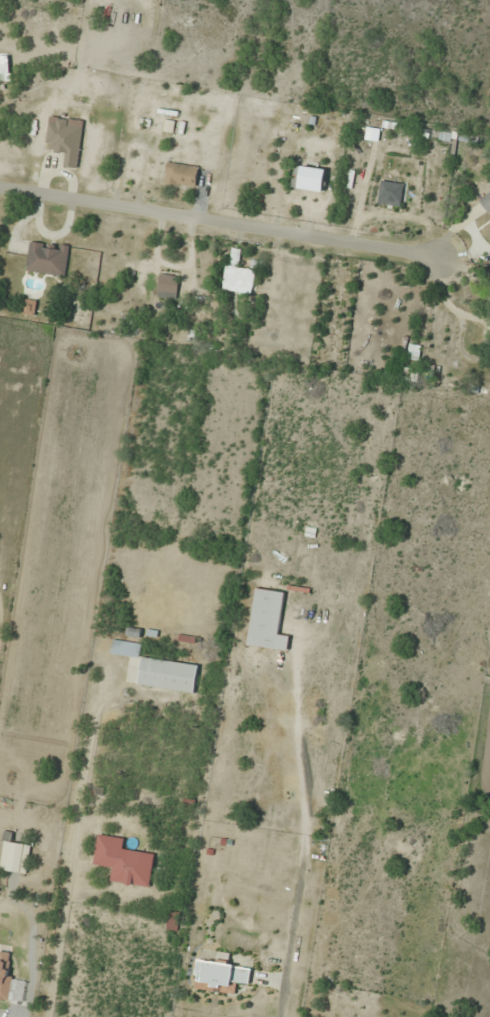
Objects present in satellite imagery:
building: (66, 138)
building: (181, 174)
building: (309, 177)
building: (487, 200)
road: (219, 223)
building: (48, 257)
building: (237, 274)
building: (168, 285)
building: (268, 620)
building: (126, 648)
building: (168, 674)
building: (15, 855)
building: (124, 861)
building: (173, 920)
building: (6, 972)
building: (222, 975)

